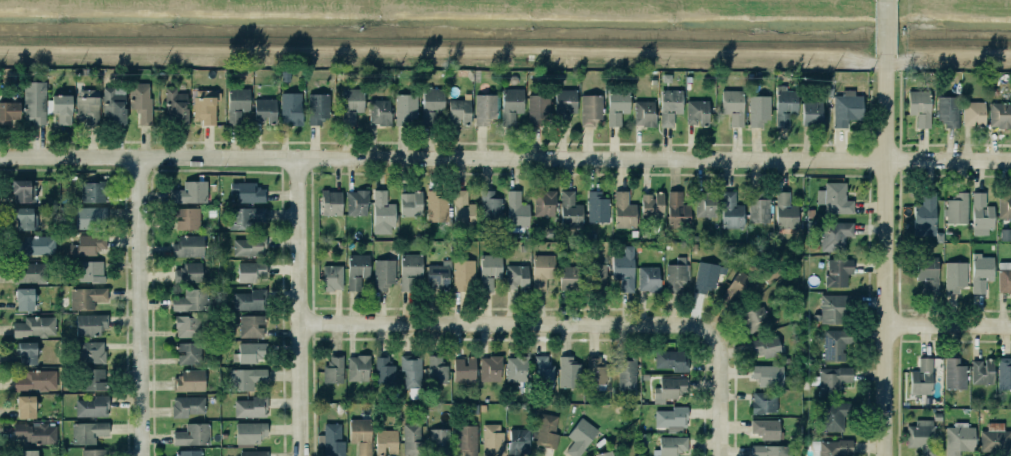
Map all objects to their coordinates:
road: (885, 27)
road: (895, 28)
park: (952, 35)
building: (138, 100)
building: (34, 102)
building: (235, 103)
building: (110, 104)
building: (348, 104)
building: (432, 104)
building: (509, 104)
building: (562, 104)
building: (87, 105)
building: (175, 105)
building: (667, 105)
building: (730, 105)
building: (785, 105)
building: (204, 106)
building: (617, 106)
building: (917, 106)
building: (315, 107)
building: (844, 107)
building: (61, 108)
building: (262, 108)
building: (291, 108)
building: (406, 109)
building: (485, 109)
building: (538, 109)
building: (592, 110)
building: (460, 111)
building: (695, 111)
building: (759, 111)
building: (9, 112)
building: (380, 112)
building: (642, 112)
building: (973, 113)
building: (812, 114)
building: (950, 116)
building: (999, 116)
road: (505, 157)
building: (24, 190)
building: (92, 191)
building: (190, 192)
building: (248, 192)
building: (834, 198)
building: (331, 202)
building: (357, 202)
building: (408, 202)
building: (544, 203)
building: (705, 203)
building: (649, 204)
building: (1004, 205)
building: (437, 206)
building: (491, 207)
building: (597, 207)
building: (954, 208)
building: (463, 209)
building: (568, 209)
building: (517, 210)
building: (621, 210)
building: (678, 211)
building: (380, 212)
building: (733, 214)
building: (787, 214)
building: (923, 214)
building: (981, 215)
building: (90, 217)
building: (246, 217)
building: (761, 217)
building: (25, 218)
building: (187, 218)
building: (835, 235)
building: (85, 244)
building: (186, 245)
building: (35, 246)
building: (249, 246)
road: (885, 255)
building: (624, 268)
building: (539, 269)
building: (357, 270)
building: (410, 270)
building: (489, 270)
building: (91, 271)
building: (252, 271)
building: (835, 271)
building: (186, 272)
building: (982, 272)
building: (30, 273)
building: (381, 273)
building: (438, 275)
building: (464, 275)
building: (928, 275)
building: (514, 276)
building: (675, 276)
building: (704, 276)
building: (955, 276)
building: (332, 277)
building: (567, 277)
building: (648, 278)
building: (1003, 280)
building: (736, 289)
building: (21, 297)
building: (87, 297)
building: (248, 298)
building: (190, 300)
road: (145, 305)
road: (306, 306)
building: (829, 308)
building: (755, 319)
road: (510, 322)
building: (88, 323)
building: (32, 326)
building: (187, 326)
building: (252, 326)
road: (948, 326)
building: (766, 346)
building: (835, 347)
building: (91, 351)
building: (186, 352)
building: (251, 352)
building: (27, 353)
building: (674, 360)
building: (358, 368)
building: (437, 368)
building: (461, 368)
building: (490, 368)
building: (517, 369)
building: (333, 370)
building: (411, 370)
building: (541, 370)
building: (624, 370)
building: (982, 371)
building: (569, 372)
building: (596, 372)
building: (765, 374)
building: (386, 375)
building: (955, 376)
building: (1004, 376)
building: (246, 378)
building: (93, 379)
building: (923, 379)
building: (35, 380)
building: (189, 380)
building: (833, 380)
building: (669, 389)
road: (717, 394)
building: (761, 401)
building: (23, 405)
building: (90, 405)
building: (188, 406)
building: (252, 409)
building: (831, 414)
building: (671, 417)
building: (766, 429)
building: (544, 430)
building: (247, 431)
building: (88, 432)
building: (36, 433)
building: (193, 434)
building: (361, 435)
building: (577, 436)
building: (922, 436)
building: (332, 439)
building: (412, 439)
building: (466, 439)
building: (959, 439)
building: (492, 440)
building: (519, 440)
building: (995, 440)
building: (386, 441)
building: (439, 442)
building: (672, 445)
building: (830, 446)
building: (771, 450)
building: (29, 452)
building: (94, 452)
building: (189, 452)
building: (253, 453)
building: (602, 453)

